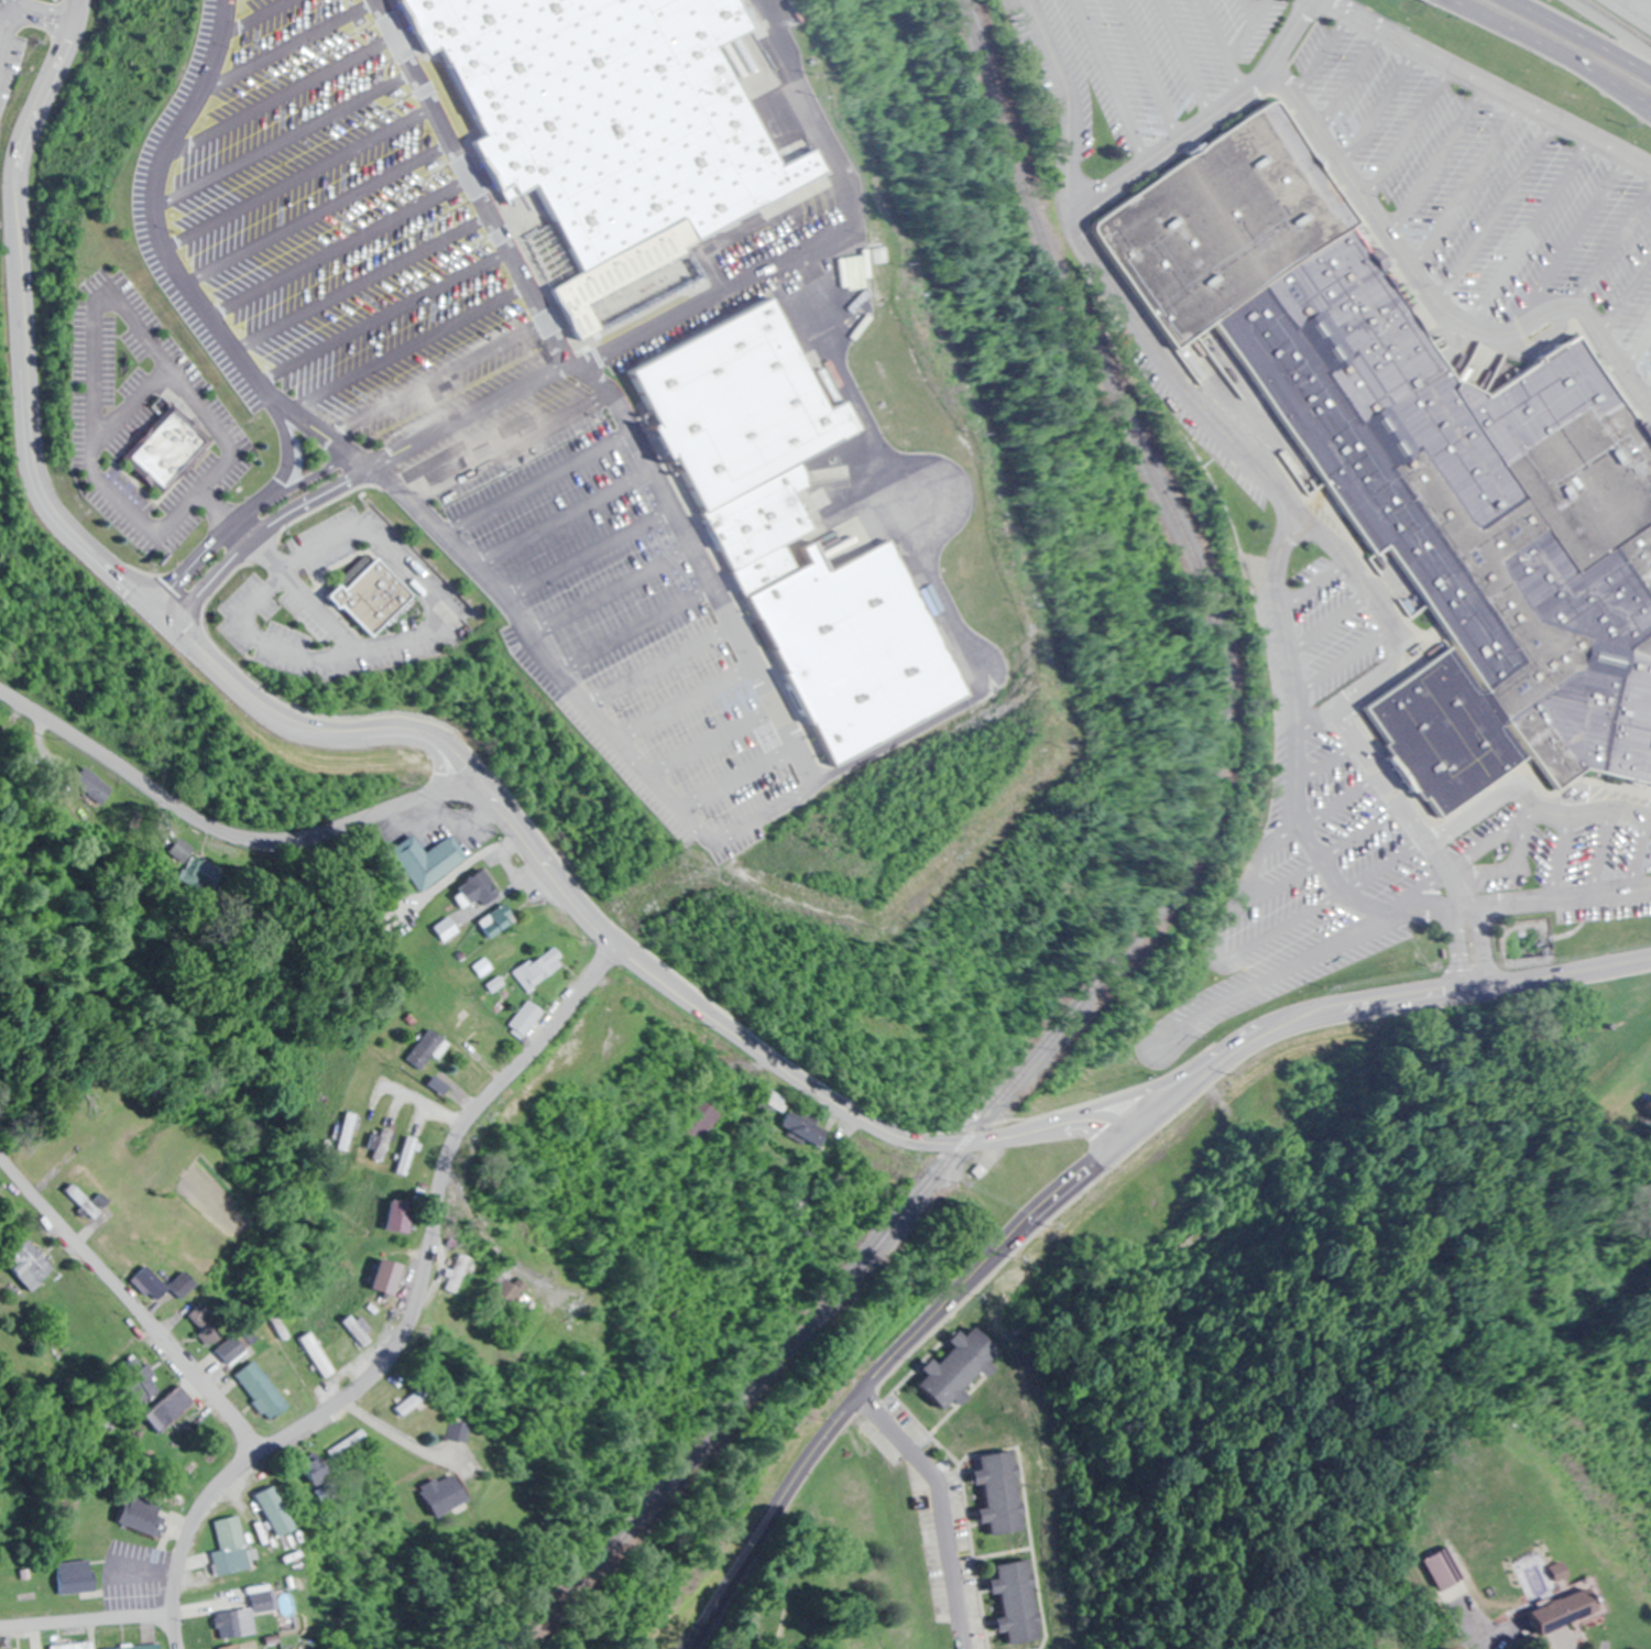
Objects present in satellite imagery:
road: (1257, 8)
road: (1637, 10)
road: (254, 14)
road: (1253, 28)
road: (1609, 28)
road: (1581, 35)
road: (1228, 43)
road: (288, 44)
road: (1553, 48)
road: (1326, 54)
road: (1192, 55)
road: (1153, 66)
road: (1117, 77)
road: (1493, 79)
road: (1355, 80)
road: (278, 95)
road: (1385, 107)
road: (812, 111)
road: (1203, 119)
building: (605, 124)
road: (1412, 132)
road: (283, 139)
road: (1443, 159)
road: (297, 176)
road: (1473, 186)
parking lot: (1485, 186)
road: (318, 211)
road: (1504, 211)
building: (1228, 223)
road: (1537, 229)
road: (1583, 234)
road: (821, 241)
road: (338, 245)
road: (1615, 248)
building: (879, 254)
road: (175, 262)
road: (359, 281)
building: (857, 295)
road: (1432, 296)
road: (1628, 305)
road: (688, 313)
road: (381, 315)
railway: (1366, 326)
road: (98, 327)
road: (409, 349)
road: (1640, 357)
road: (435, 378)
road: (602, 383)
building: (1542, 400)
building: (742, 401)
road: (136, 405)
road: (466, 412)
road: (506, 441)
road: (286, 449)
building: (168, 454)
road: (532, 479)
building: (1594, 480)
road: (1288, 501)
road: (218, 507)
road: (50, 510)
road: (243, 511)
building: (1457, 511)
road: (559, 516)
building: (765, 518)
road: (240, 529)
road: (254, 533)
road: (337, 537)
road: (584, 553)
road: (267, 557)
road: (928, 568)
road: (1313, 583)
road: (606, 590)
building: (373, 598)
traffic signals: (156, 610)
road: (324, 613)
road: (1331, 623)
road: (628, 626)
building: (860, 644)
road: (653, 664)
road: (1343, 664)
road: (571, 696)
road: (679, 702)
road: (1317, 723)
building: (1447, 732)
road: (706, 742)
road: (1325, 765)
road: (1293, 768)
road: (732, 780)
building: (92, 784)
road: (1530, 793)
road: (1338, 805)
road: (223, 832)
road: (1360, 837)
road: (1494, 840)
building: (176, 850)
road: (1608, 855)
road: (1265, 856)
road: (1565, 858)
building: (428, 861)
road: (1643, 865)
road: (1384, 866)
road: (1523, 867)
railway: (1523, 887)
building: (474, 892)
road: (1414, 896)
road: (1554, 906)
railway: (1149, 914)
building: (500, 917)
building: (442, 928)
railway: (1303, 929)
road: (1224, 946)
building: (537, 969)
road: (1270, 972)
building: (425, 1048)
building: (801, 1131)
road: (1018, 1135)
building: (379, 1144)
building: (405, 1155)
building: (88, 1201)
building: (402, 1216)
road: (505, 1256)
building: (29, 1264)
building: (457, 1273)
building: (390, 1277)
building: (164, 1284)
road: (129, 1304)
road: (409, 1312)
building: (205, 1322)
building: (233, 1348)
building: (316, 1354)
building: (959, 1368)
road: (875, 1370)
building: (262, 1390)
building: (414, 1401)
building: (170, 1409)
building: (347, 1441)
building: (317, 1470)
building: (999, 1492)
building: (446, 1495)
road: (939, 1508)
building: (275, 1511)
building: (140, 1514)
building: (231, 1546)
building: (1435, 1574)
building: (75, 1576)
building: (263, 1601)
building: (1017, 1601)
road: (88, 1619)
building: (232, 1619)
building: (139, 1646)
building: (77, 1647)
building: (231, 1647)
building: (39, 1648)

